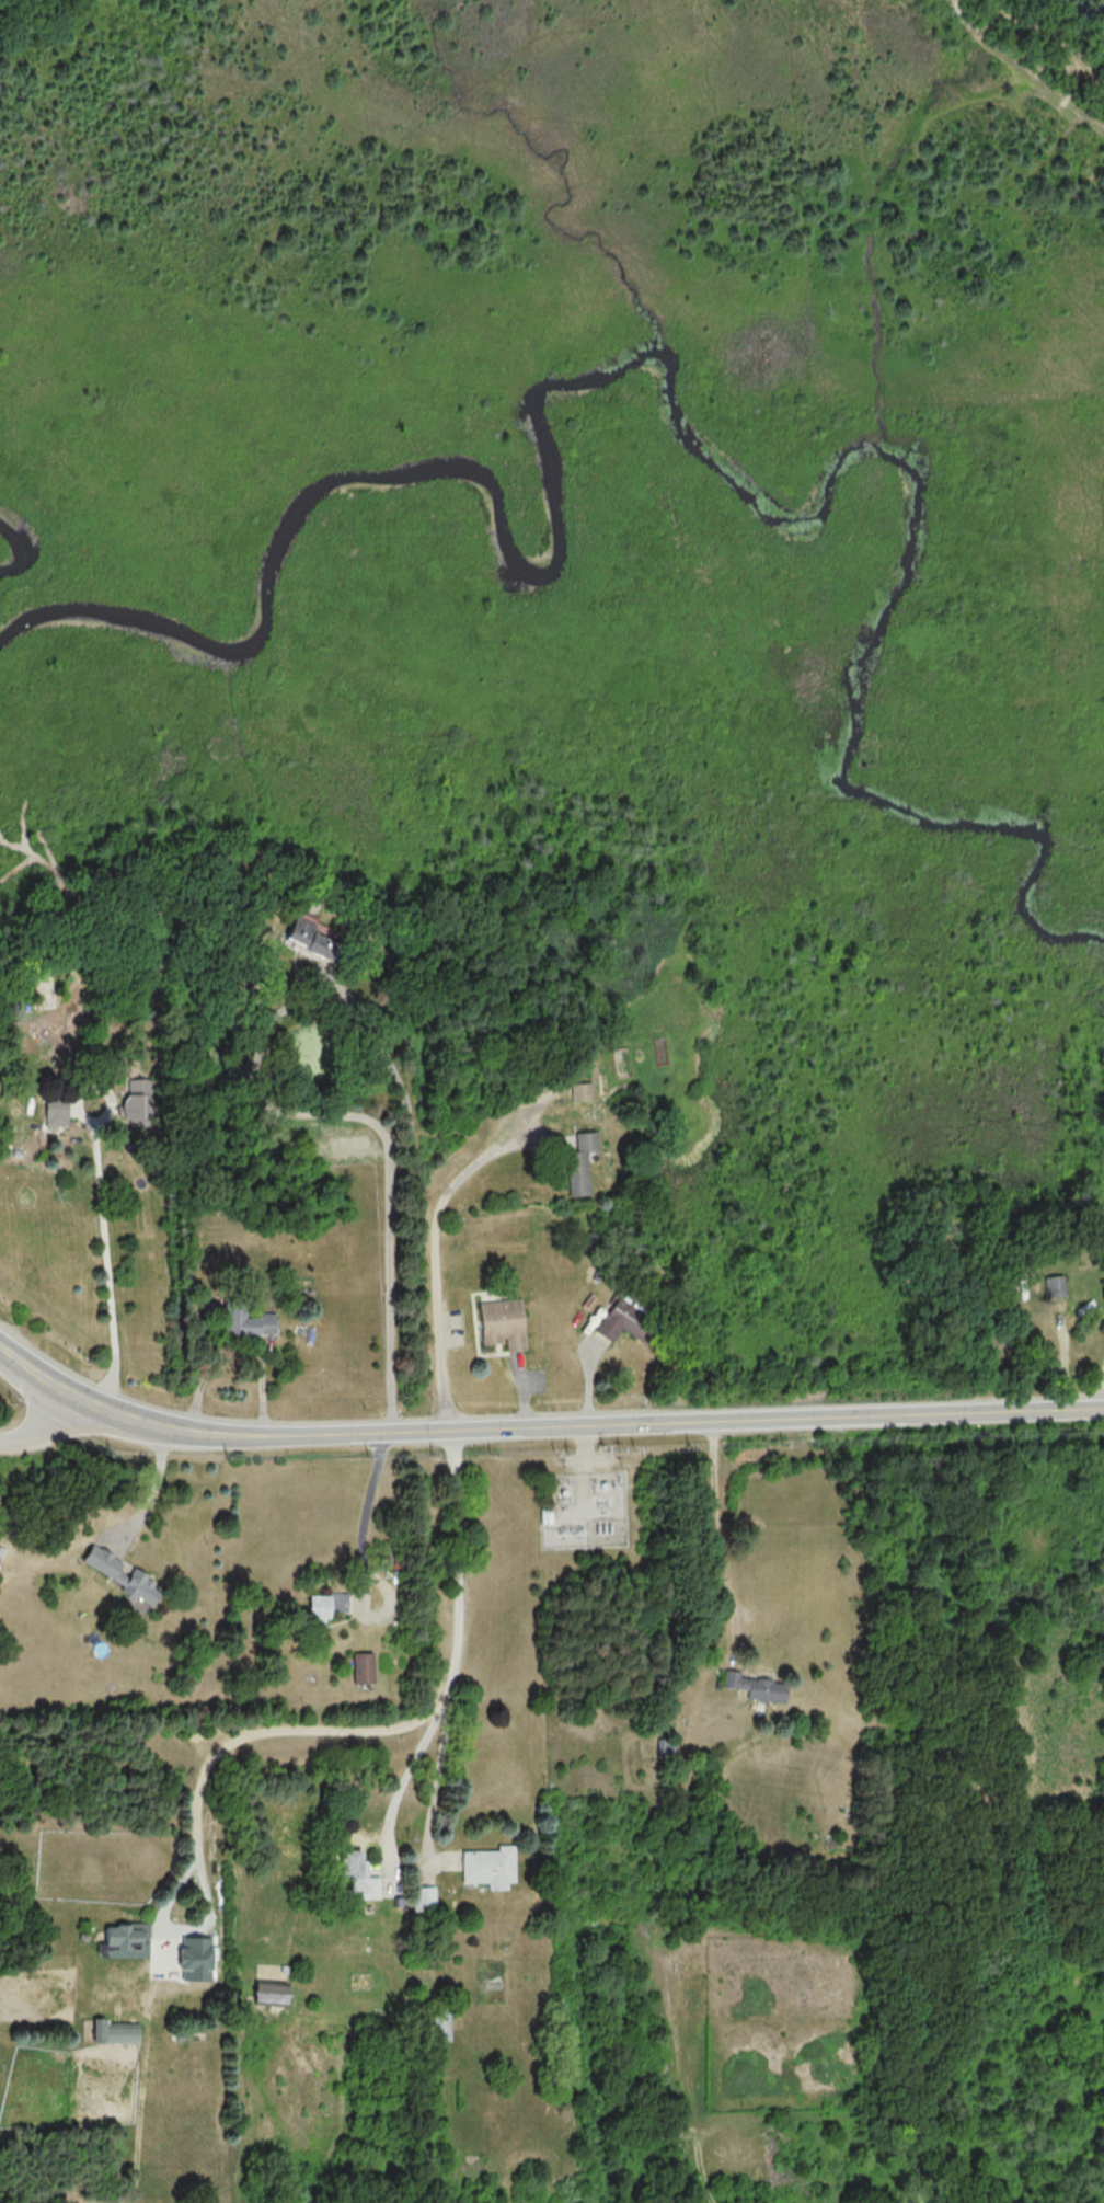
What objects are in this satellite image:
building: (307, 934)
road: (286, 1007)
building: (580, 1091)
building: (140, 1101)
building: (56, 1111)
building: (579, 1162)
road: (436, 1259)
road: (110, 1275)
building: (1055, 1285)
road: (390, 1288)
building: (1103, 1290)
building: (616, 1318)
building: (245, 1321)
building: (502, 1322)
road: (232, 1350)
road: (921, 1413)
road: (38, 1435)
road: (358, 1436)
road: (580, 1459)
road: (153, 1498)
power substation: (586, 1511)
road: (367, 1518)
road: (720, 1535)
building: (0, 1559)
building: (122, 1573)
building: (324, 1605)
building: (364, 1667)
building: (755, 1686)
road: (403, 1725)
building: (665, 1749)
road: (440, 1775)
road: (407, 1777)
building: (490, 1866)
building: (358, 1873)
building: (423, 1897)
building: (125, 1935)
building: (195, 1959)
building: (269, 1993)
building: (441, 2026)
building: (117, 2032)

